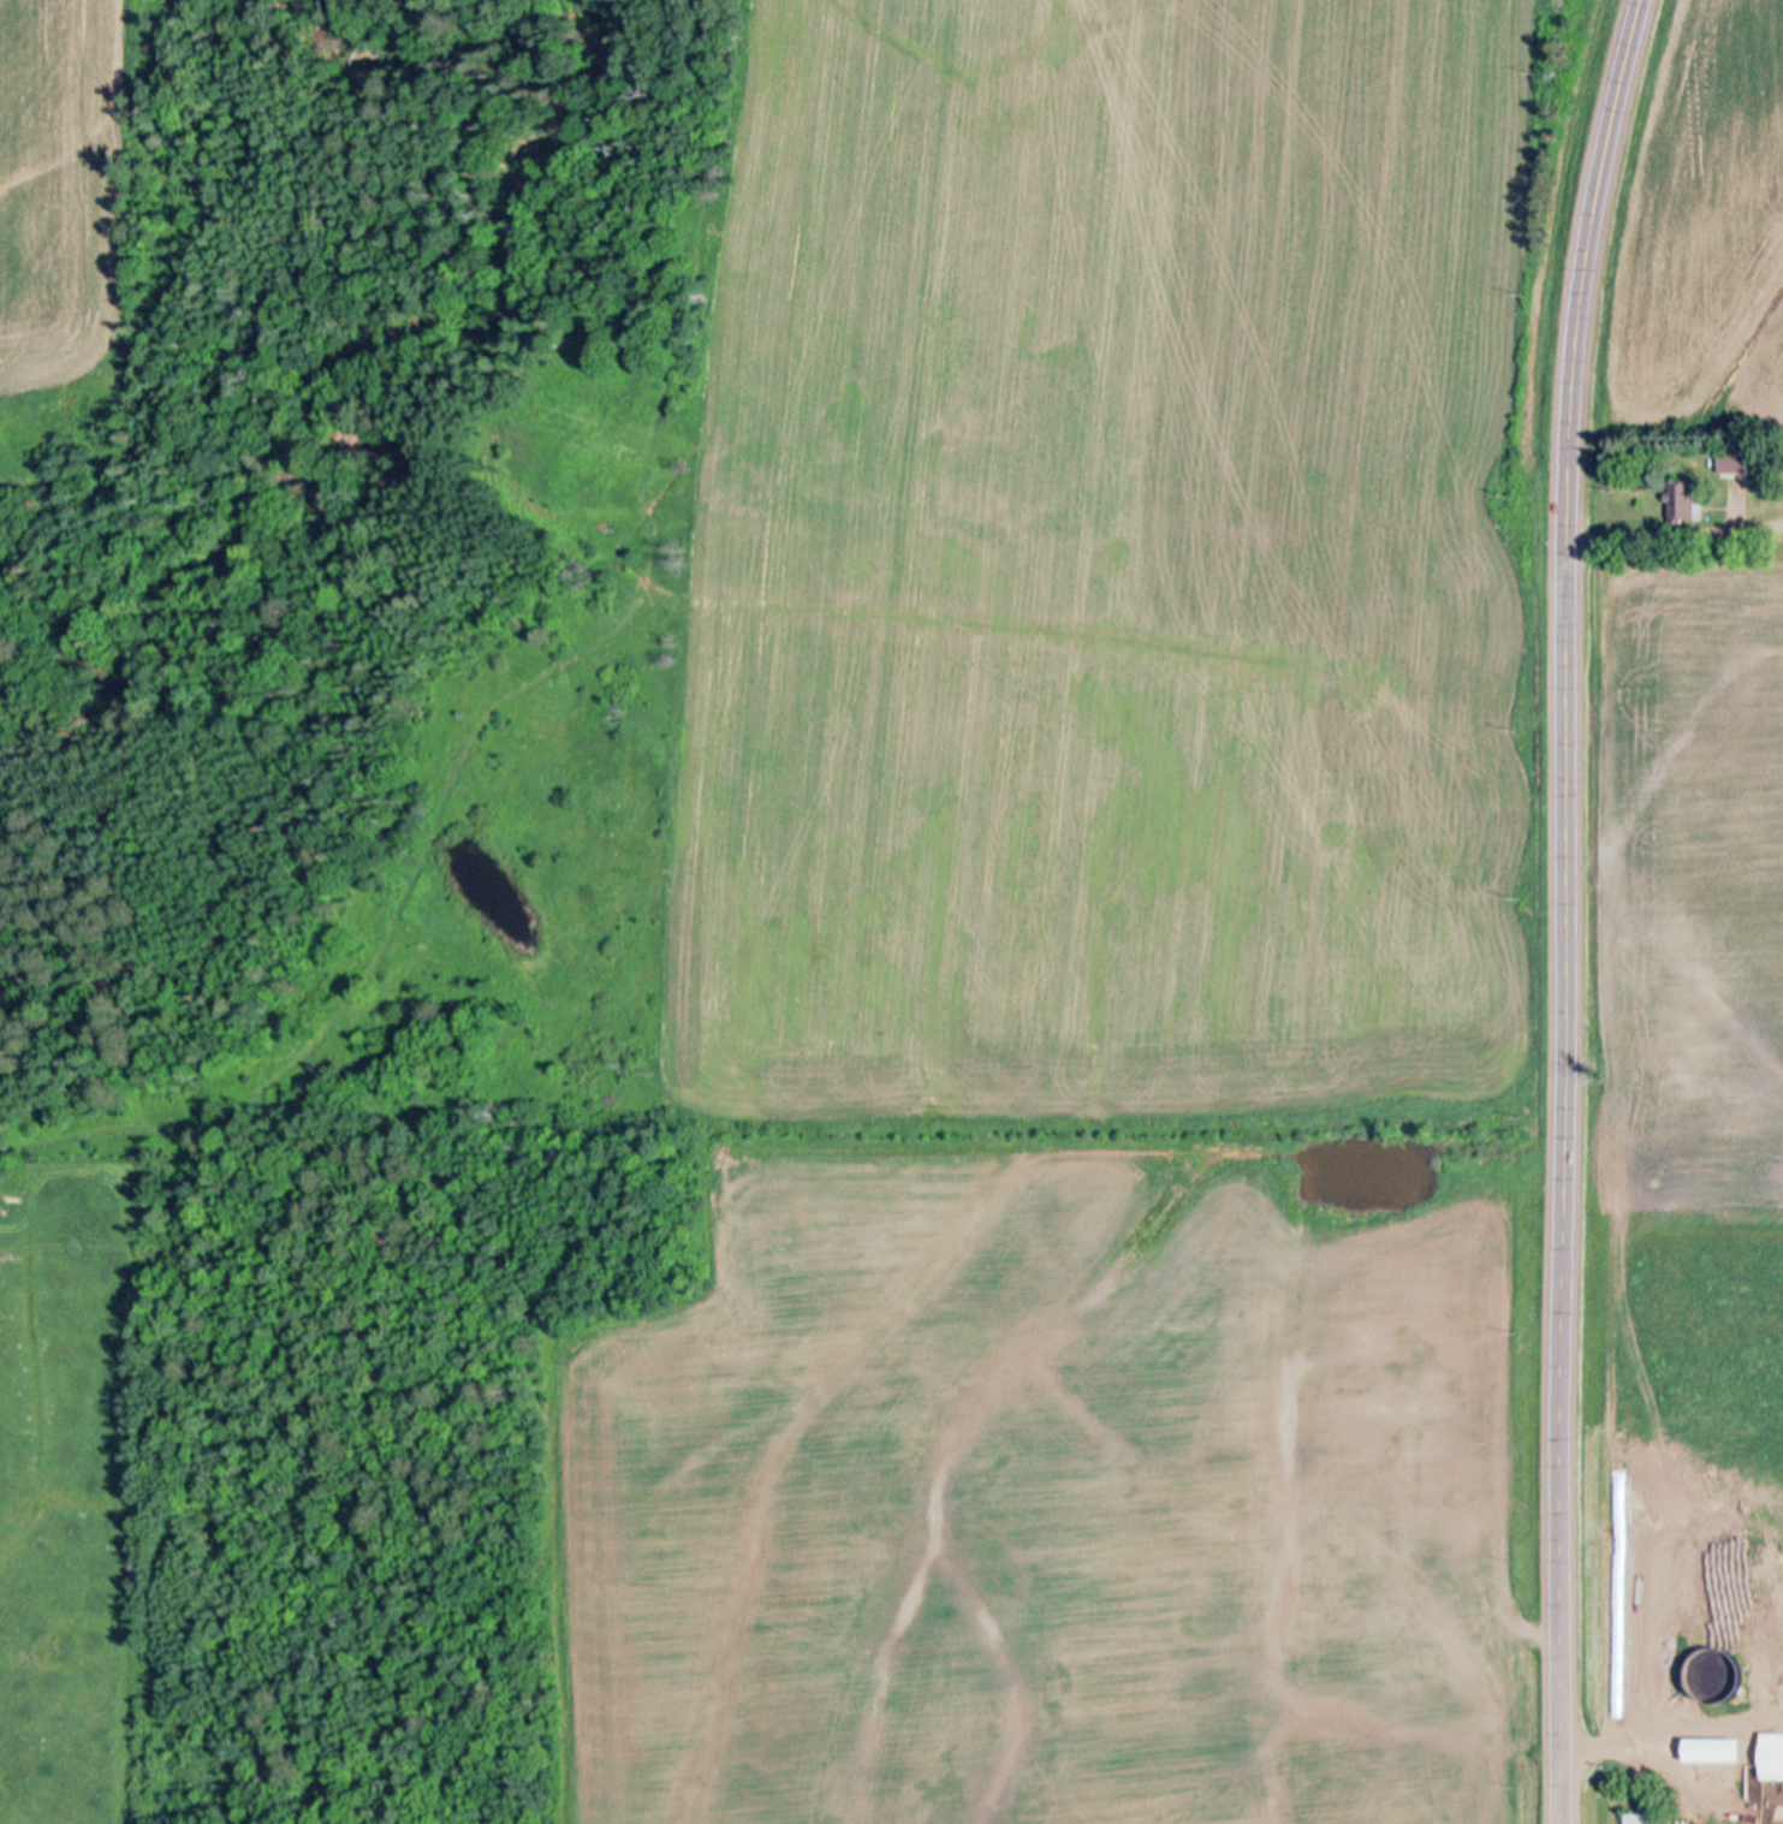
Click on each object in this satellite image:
building: (1733, 459)
building: (1683, 499)
road: (1567, 908)
building: (1720, 1677)
building: (1773, 1757)
building: (1648, 1819)

